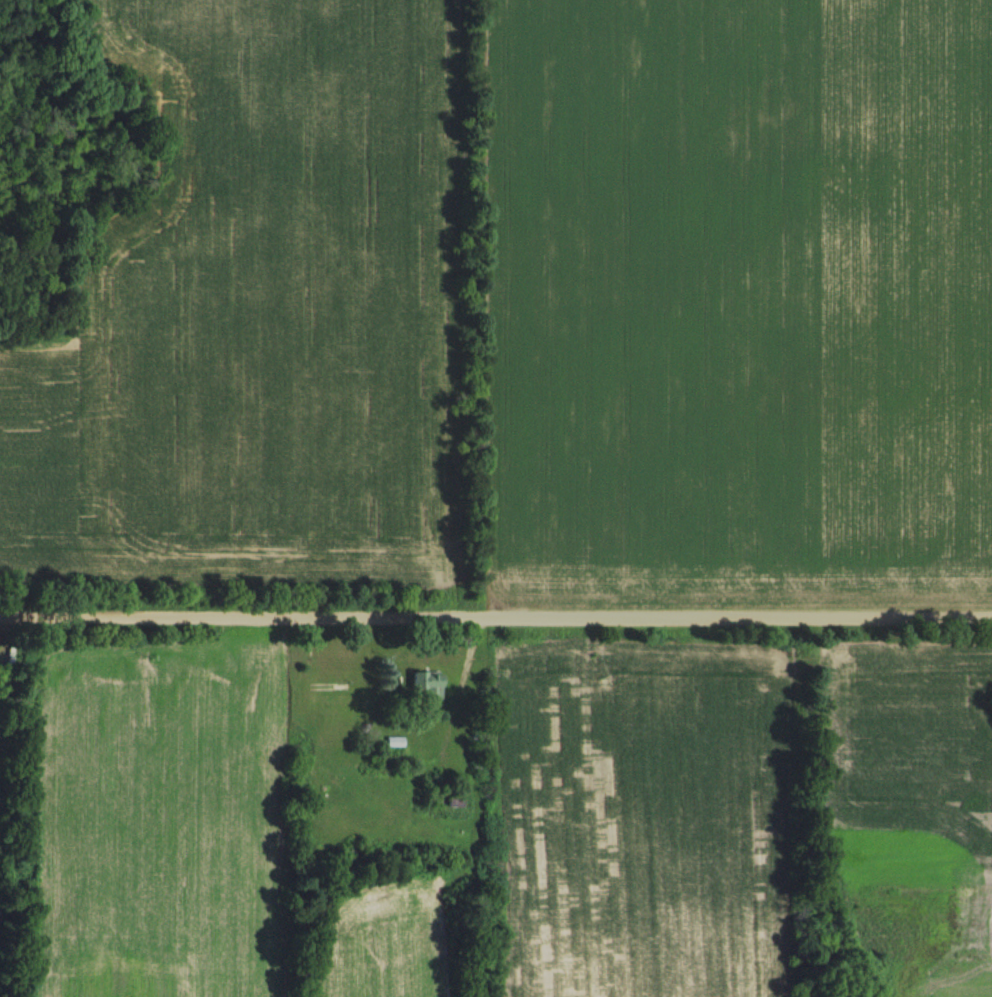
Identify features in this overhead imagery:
road: (496, 618)
building: (426, 683)
building: (340, 697)
building: (394, 742)
building: (452, 803)

